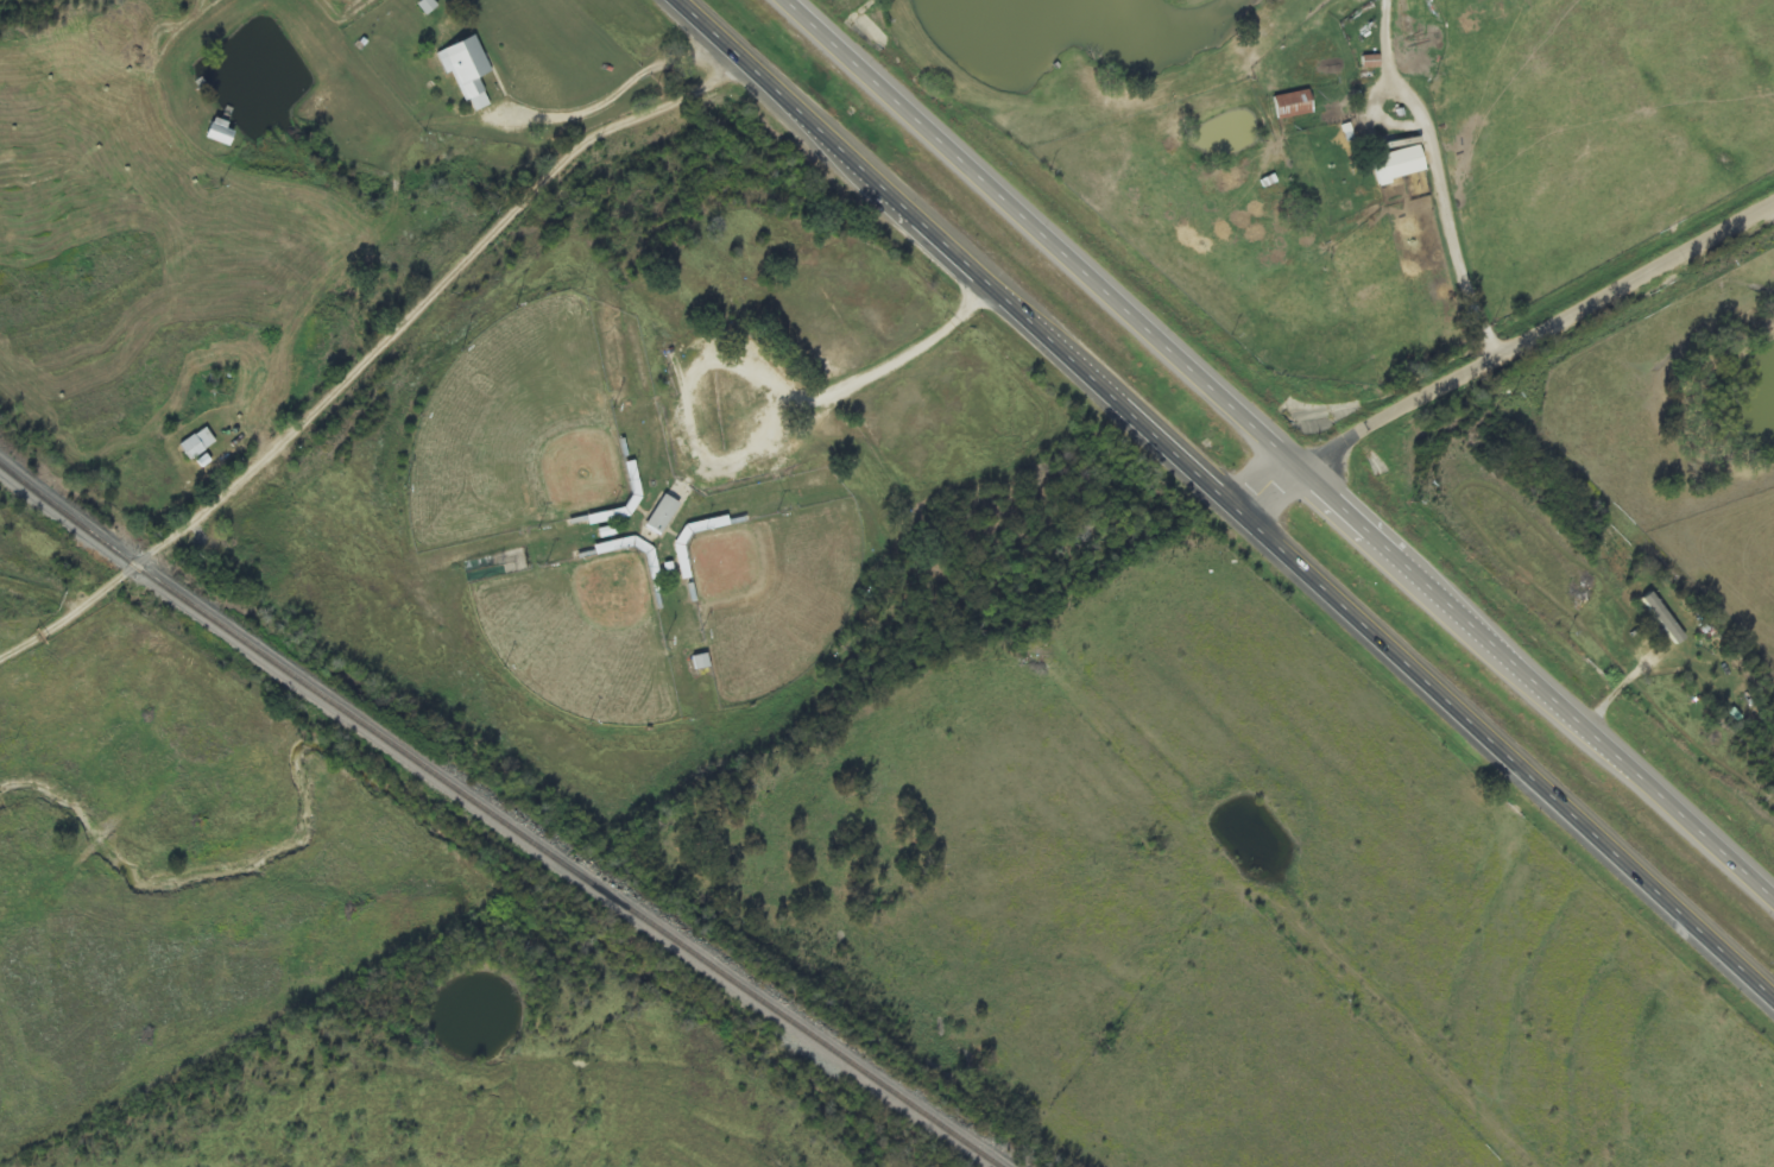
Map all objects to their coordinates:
building: (428, 6)
building: (1407, 58)
building: (1371, 63)
building: (468, 71)
road: (618, 100)
building: (1294, 106)
building: (220, 133)
road: (1445, 175)
road: (1503, 353)
building: (197, 444)
road: (1271, 450)
road: (1226, 499)
building: (662, 515)
building: (1665, 619)
railway: (493, 822)

